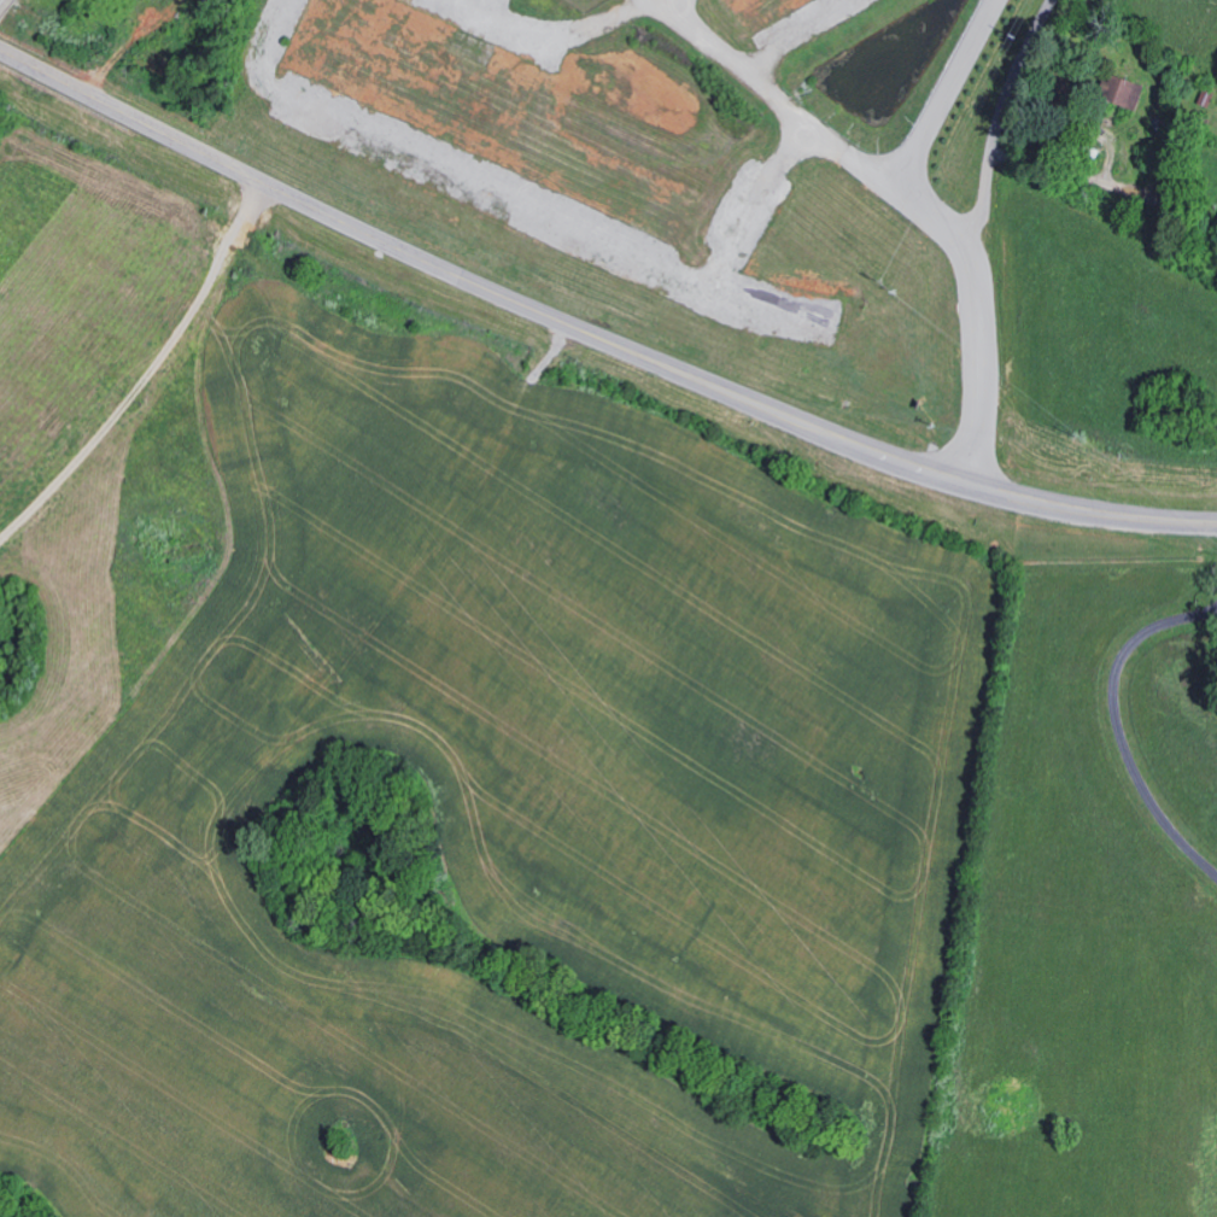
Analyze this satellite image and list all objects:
road: (0, 0)
road: (546, 21)
road: (791, 34)
road: (949, 90)
building: (1117, 90)
road: (823, 125)
road: (504, 197)
road: (753, 203)
road: (987, 234)
road: (592, 327)
road: (1118, 725)

